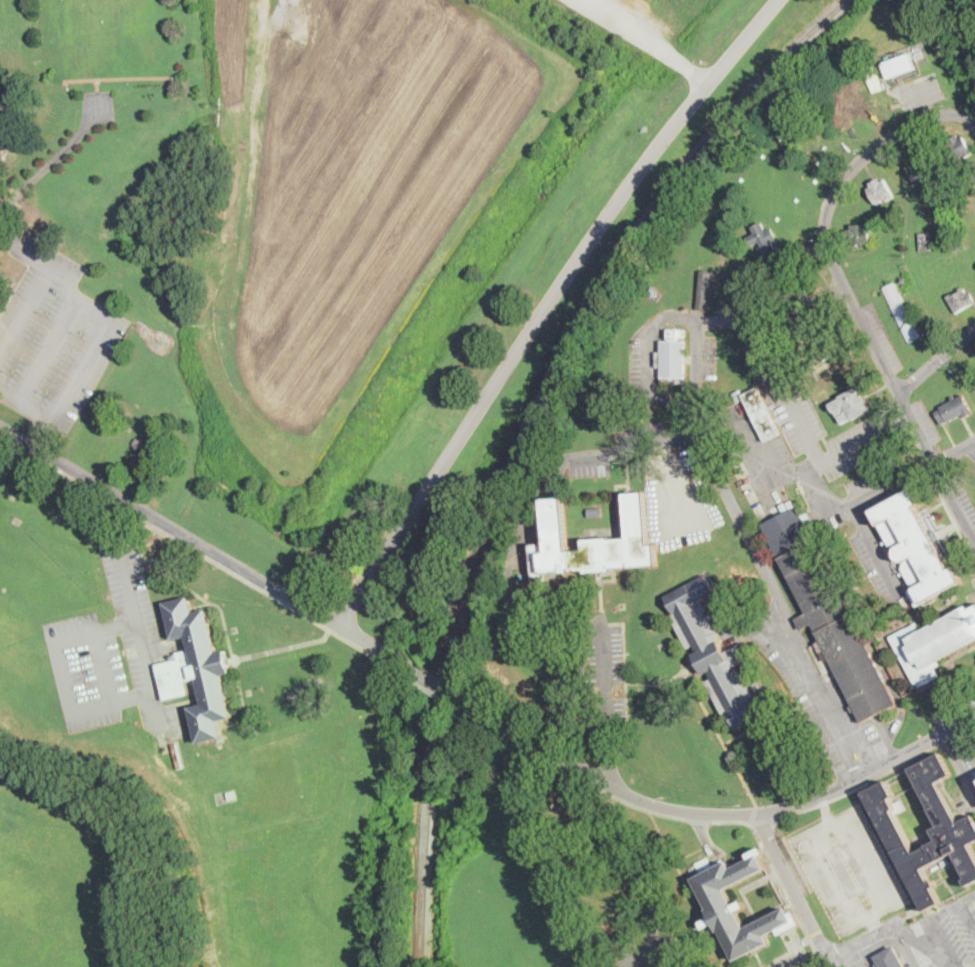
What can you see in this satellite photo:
park: (106, 36)
road: (649, 41)
building: (899, 64)
building: (959, 147)
building: (919, 169)
road: (848, 172)
building: (880, 191)
building: (860, 234)
building: (762, 238)
building: (925, 241)
building: (737, 246)
road: (26, 247)
building: (735, 253)
building: (761, 278)
building: (904, 279)
building: (705, 291)
building: (800, 297)
building: (961, 300)
road: (547, 304)
road: (26, 310)
building: (900, 311)
road: (678, 314)
parking lot: (54, 338)
parking lot: (877, 338)
road: (874, 340)
building: (827, 346)
road: (49, 349)
road: (89, 356)
building: (673, 356)
road: (696, 356)
parking lot: (707, 356)
road: (937, 358)
road: (650, 366)
parking lot: (639, 369)
road: (777, 377)
road: (895, 382)
building: (739, 395)
parking lot: (799, 397)
road: (902, 397)
road: (673, 398)
building: (852, 404)
building: (954, 409)
building: (763, 413)
road: (899, 419)
road: (916, 425)
road: (39, 431)
parking lot: (643, 433)
railway: (522, 434)
road: (670, 435)
building: (140, 442)
road: (847, 446)
road: (971, 446)
road: (609, 452)
road: (930, 453)
road: (751, 460)
parking lot: (590, 462)
road: (797, 470)
road: (914, 472)
road: (941, 474)
parking lot: (765, 477)
park: (487, 483)
road: (674, 483)
road: (817, 485)
parking lot: (678, 496)
road: (832, 502)
building: (595, 511)
road: (112, 512)
road: (961, 513)
parking lot: (865, 524)
building: (594, 542)
road: (205, 545)
building: (920, 546)
road: (876, 550)
road: (511, 568)
road: (779, 602)
building: (828, 614)
road: (139, 633)
building: (934, 643)
parking lot: (113, 651)
building: (716, 655)
road: (105, 667)
building: (198, 669)
road: (63, 676)
road: (435, 682)
road: (604, 687)
parking lot: (606, 688)
parking lot: (820, 694)
parking lot: (956, 710)
building: (175, 746)
road: (959, 762)
road: (609, 766)
building: (232, 794)
road: (714, 813)
building: (957, 836)
road: (548, 856)
parking lot: (850, 869)
road: (795, 890)
building: (718, 898)
road: (937, 910)
road: (876, 912)
road: (965, 917)
road: (874, 925)
parking lot: (951, 928)
road: (883, 932)
road: (942, 942)
parking lot: (652, 948)
road: (903, 948)
road: (651, 951)
building: (890, 958)
parking lot: (791, 960)
parking lot: (933, 963)
road: (625, 965)

